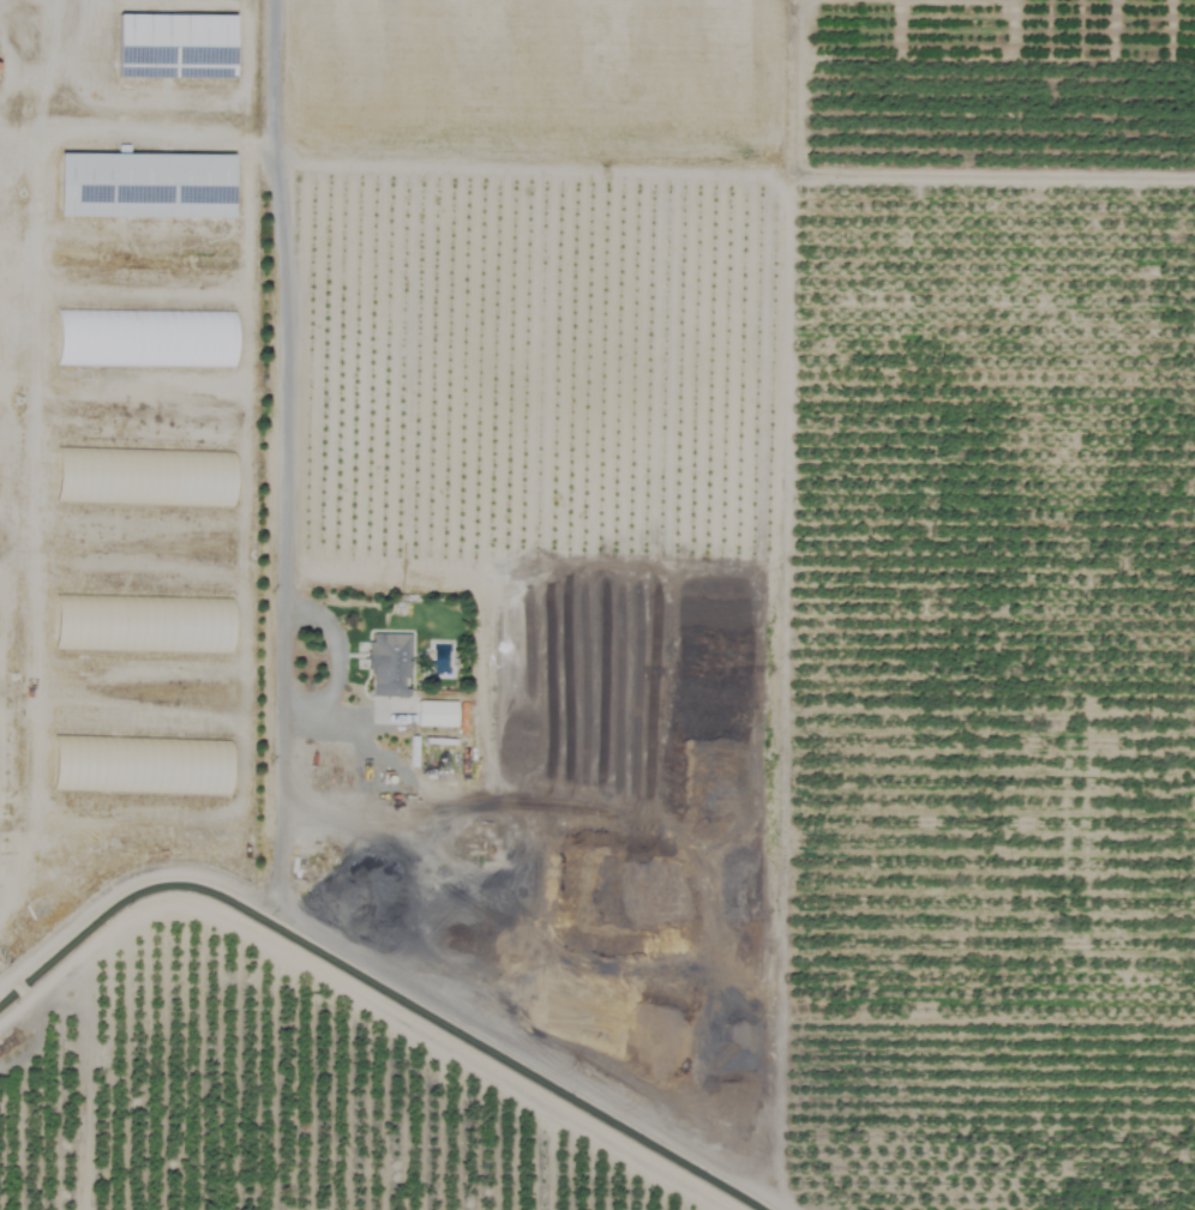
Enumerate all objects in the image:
building: (173, 47)
building: (143, 186)
road: (287, 297)
building: (138, 625)
crop: (690, 636)
building: (388, 664)
building: (433, 714)
road: (319, 717)

